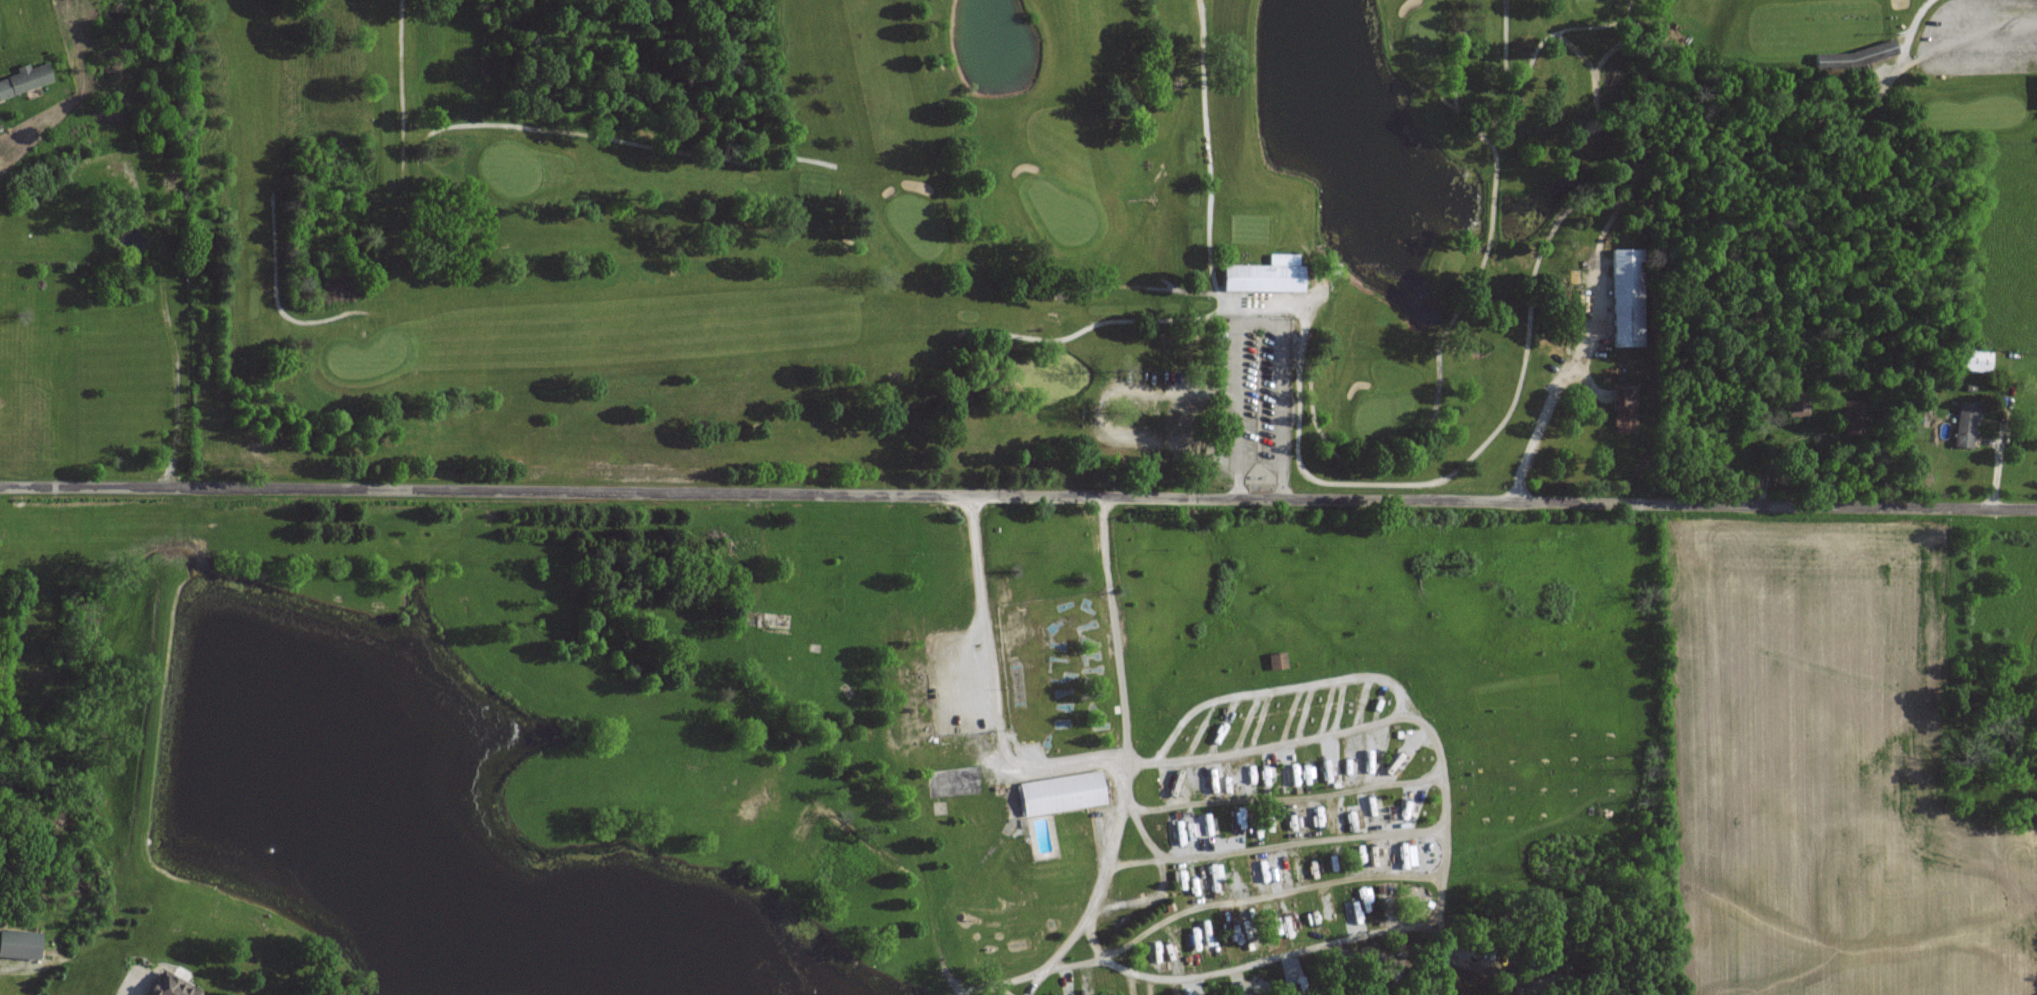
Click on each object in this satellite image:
building: (1834, 12)
building: (1889, 47)
road: (1991, 47)
building: (26, 79)
building: (74, 217)
park: (928, 232)
building: (1267, 274)
building: (1627, 297)
road: (1256, 320)
road: (168, 323)
building: (1978, 360)
building: (1626, 408)
road: (1105, 410)
road: (1542, 417)
building: (1967, 423)
road: (1018, 497)
road: (1279, 686)
road: (1058, 765)
building: (1063, 792)
road: (1283, 796)
road: (1275, 844)
road: (1162, 879)
road: (1267, 892)
road: (1407, 922)
building: (20, 944)

